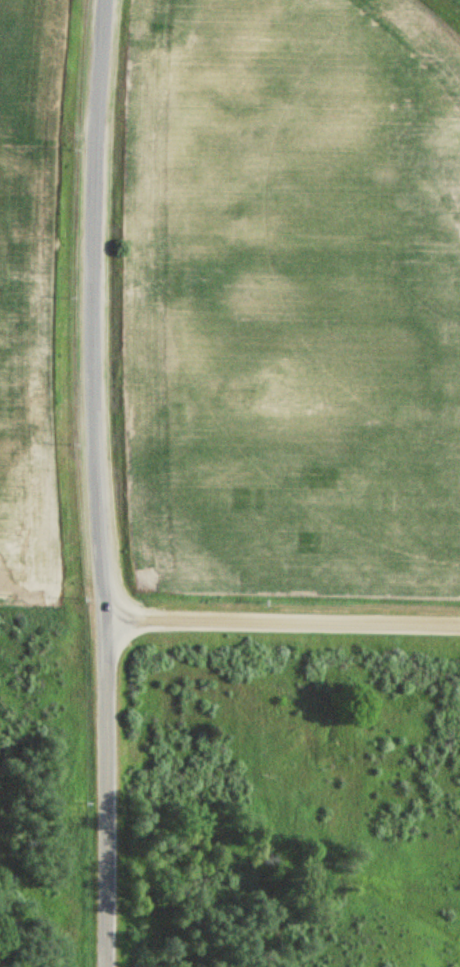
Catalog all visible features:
road: (64, 53)
road: (103, 483)
road: (286, 619)

